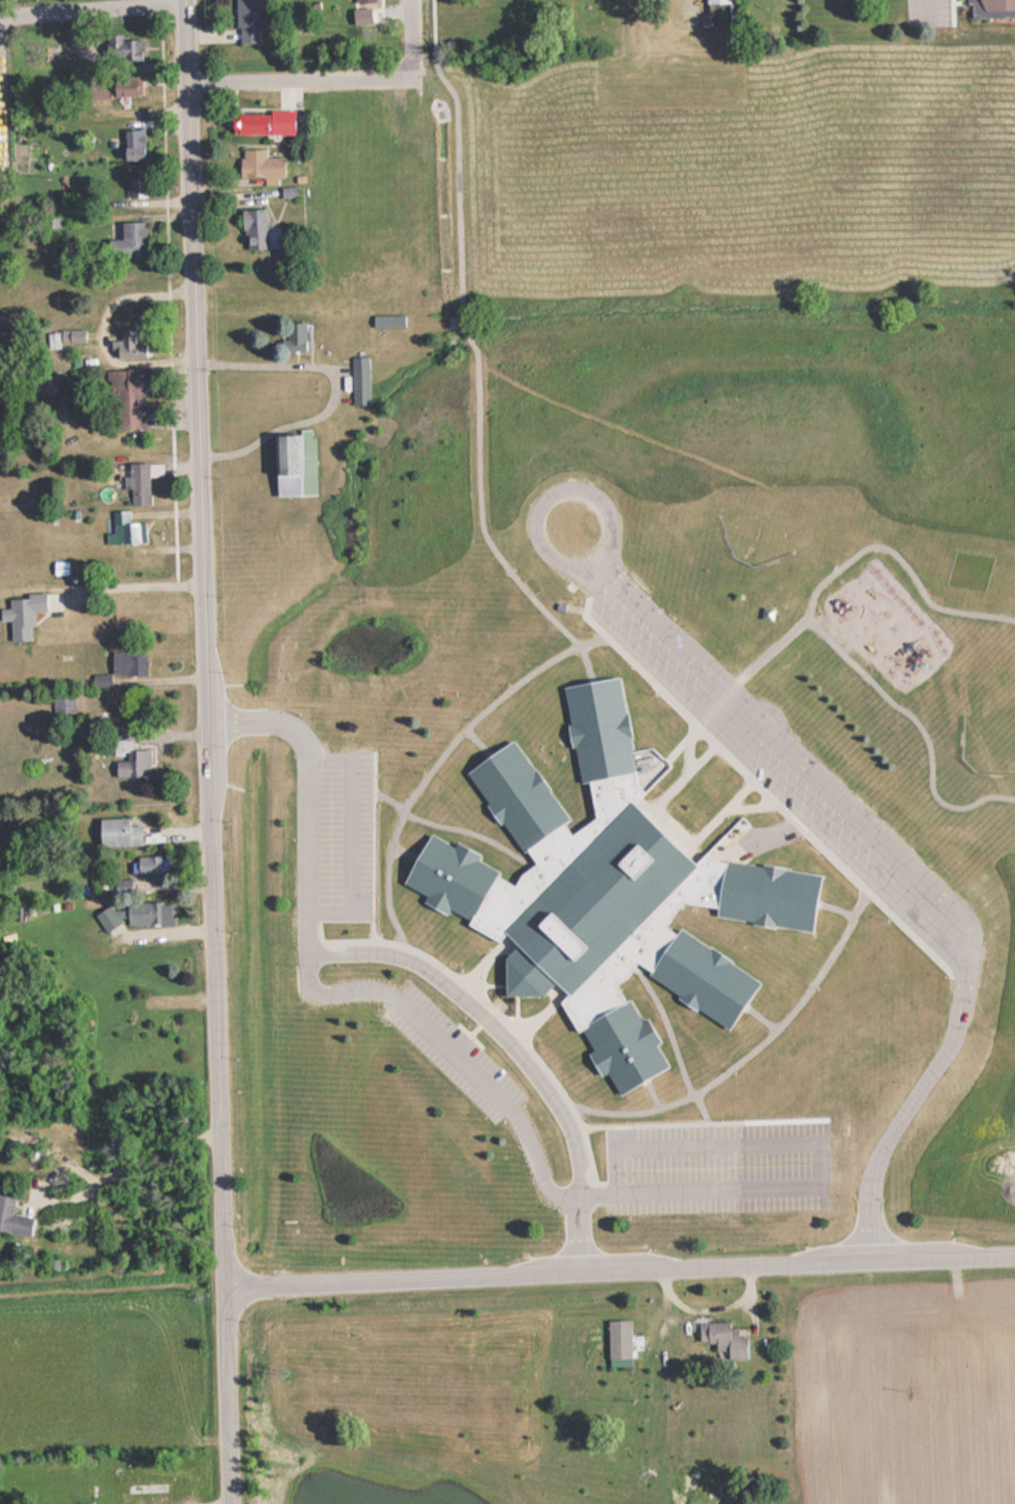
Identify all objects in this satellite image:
building: (363, 2)
road: (406, 2)
building: (716, 2)
building: (989, 10)
building: (247, 21)
building: (129, 49)
building: (112, 88)
building: (290, 115)
building: (248, 121)
building: (132, 144)
building: (257, 166)
building: (135, 188)
building: (252, 230)
building: (130, 239)
building: (387, 320)
building: (131, 342)
building: (359, 381)
building: (44, 386)
building: (128, 396)
building: (291, 465)
building: (137, 482)
building: (125, 529)
road: (852, 553)
building: (122, 666)
road: (918, 724)
road: (211, 751)
building: (127, 755)
road: (820, 780)
building: (117, 831)
building: (148, 864)
building: (600, 892)
building: (135, 913)
road: (384, 955)
road: (450, 1055)
building: (13, 1219)
road: (619, 1262)
building: (617, 1339)
building: (723, 1339)
building: (147, 1492)

